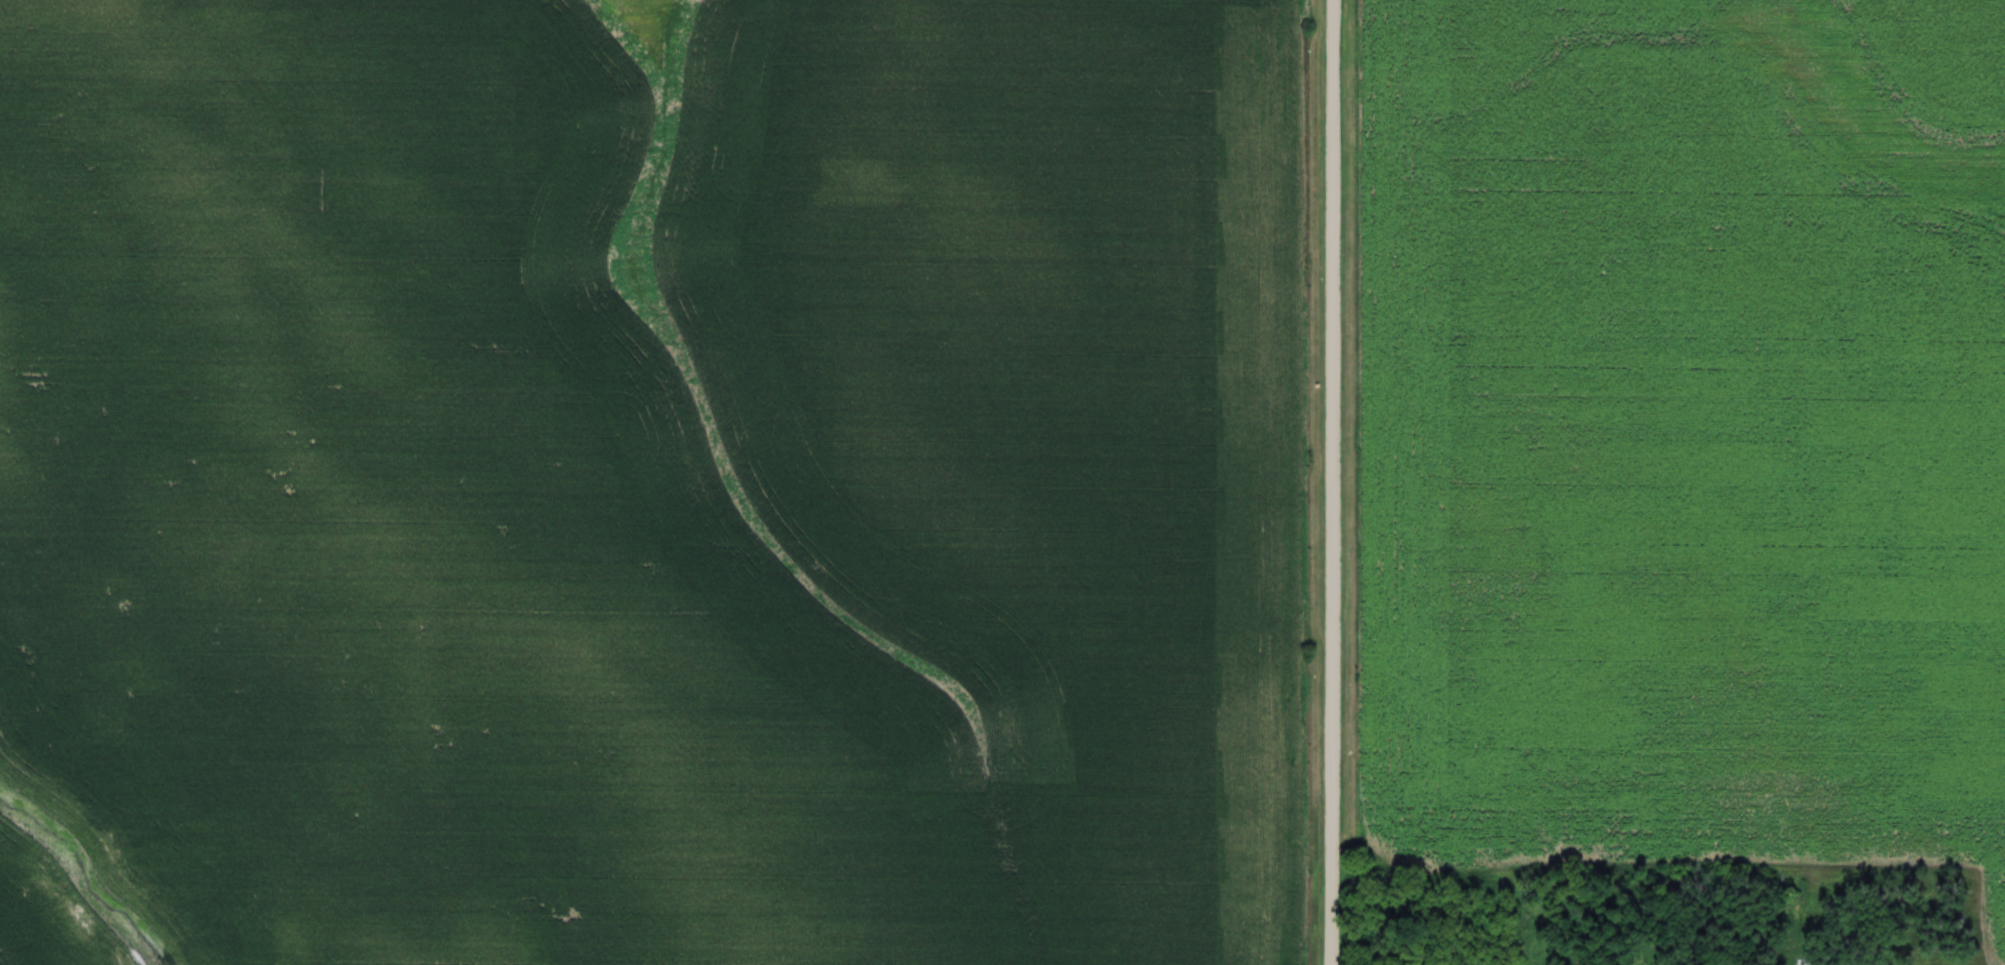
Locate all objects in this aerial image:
road: (1335, 482)

